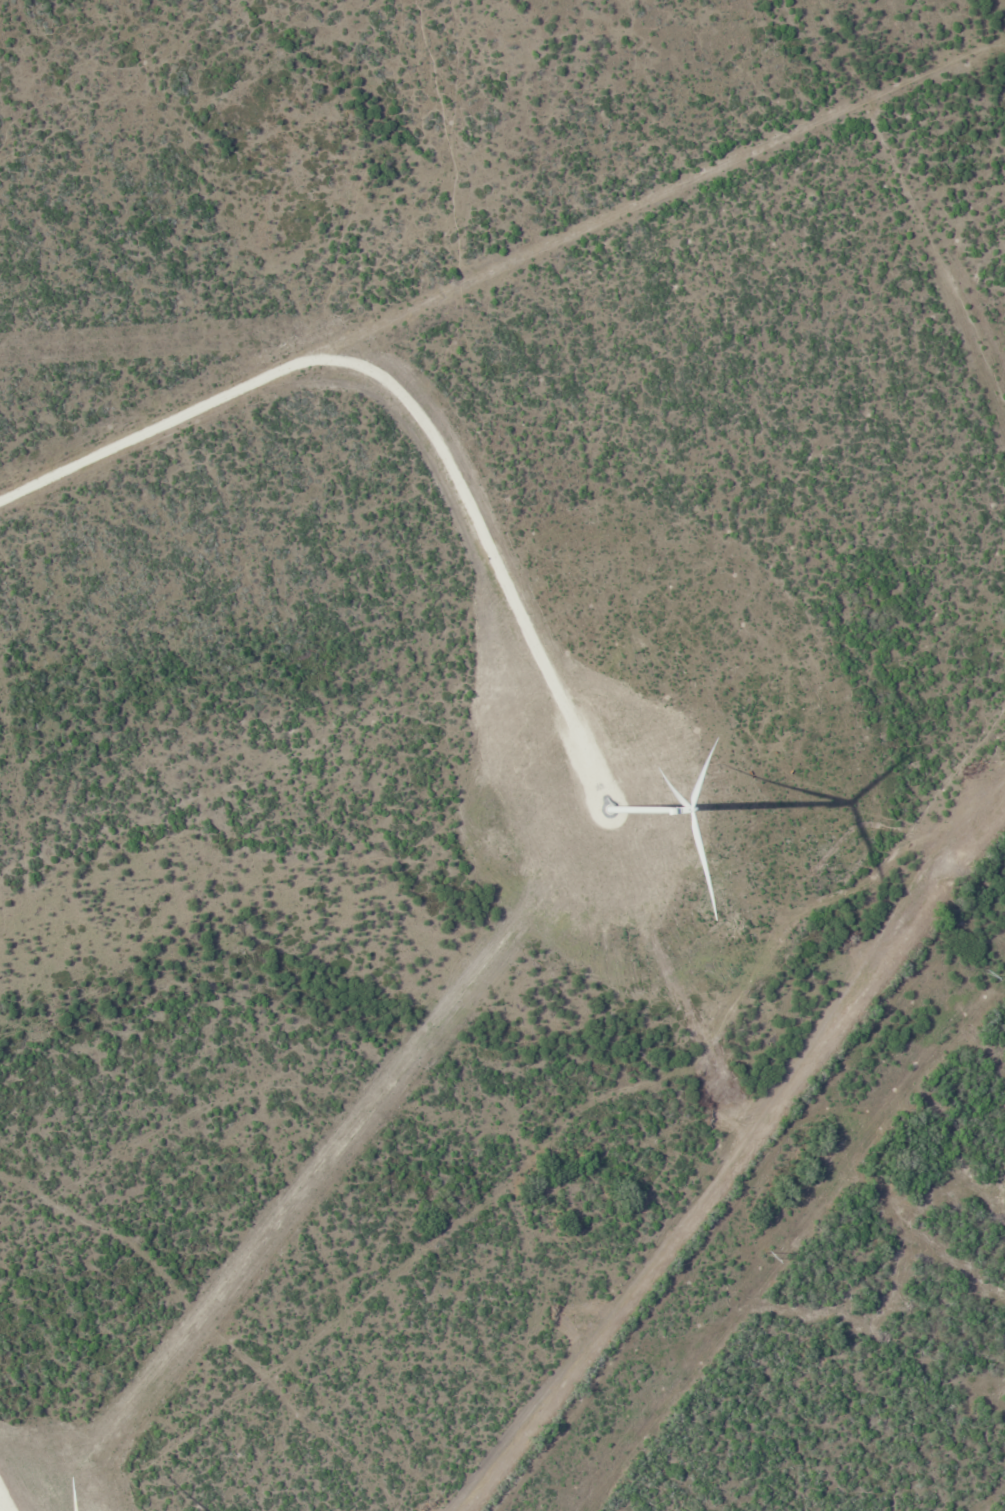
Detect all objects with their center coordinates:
wind turbine: (605, 817)
power tower: (986, 973)
power tower: (769, 1254)

